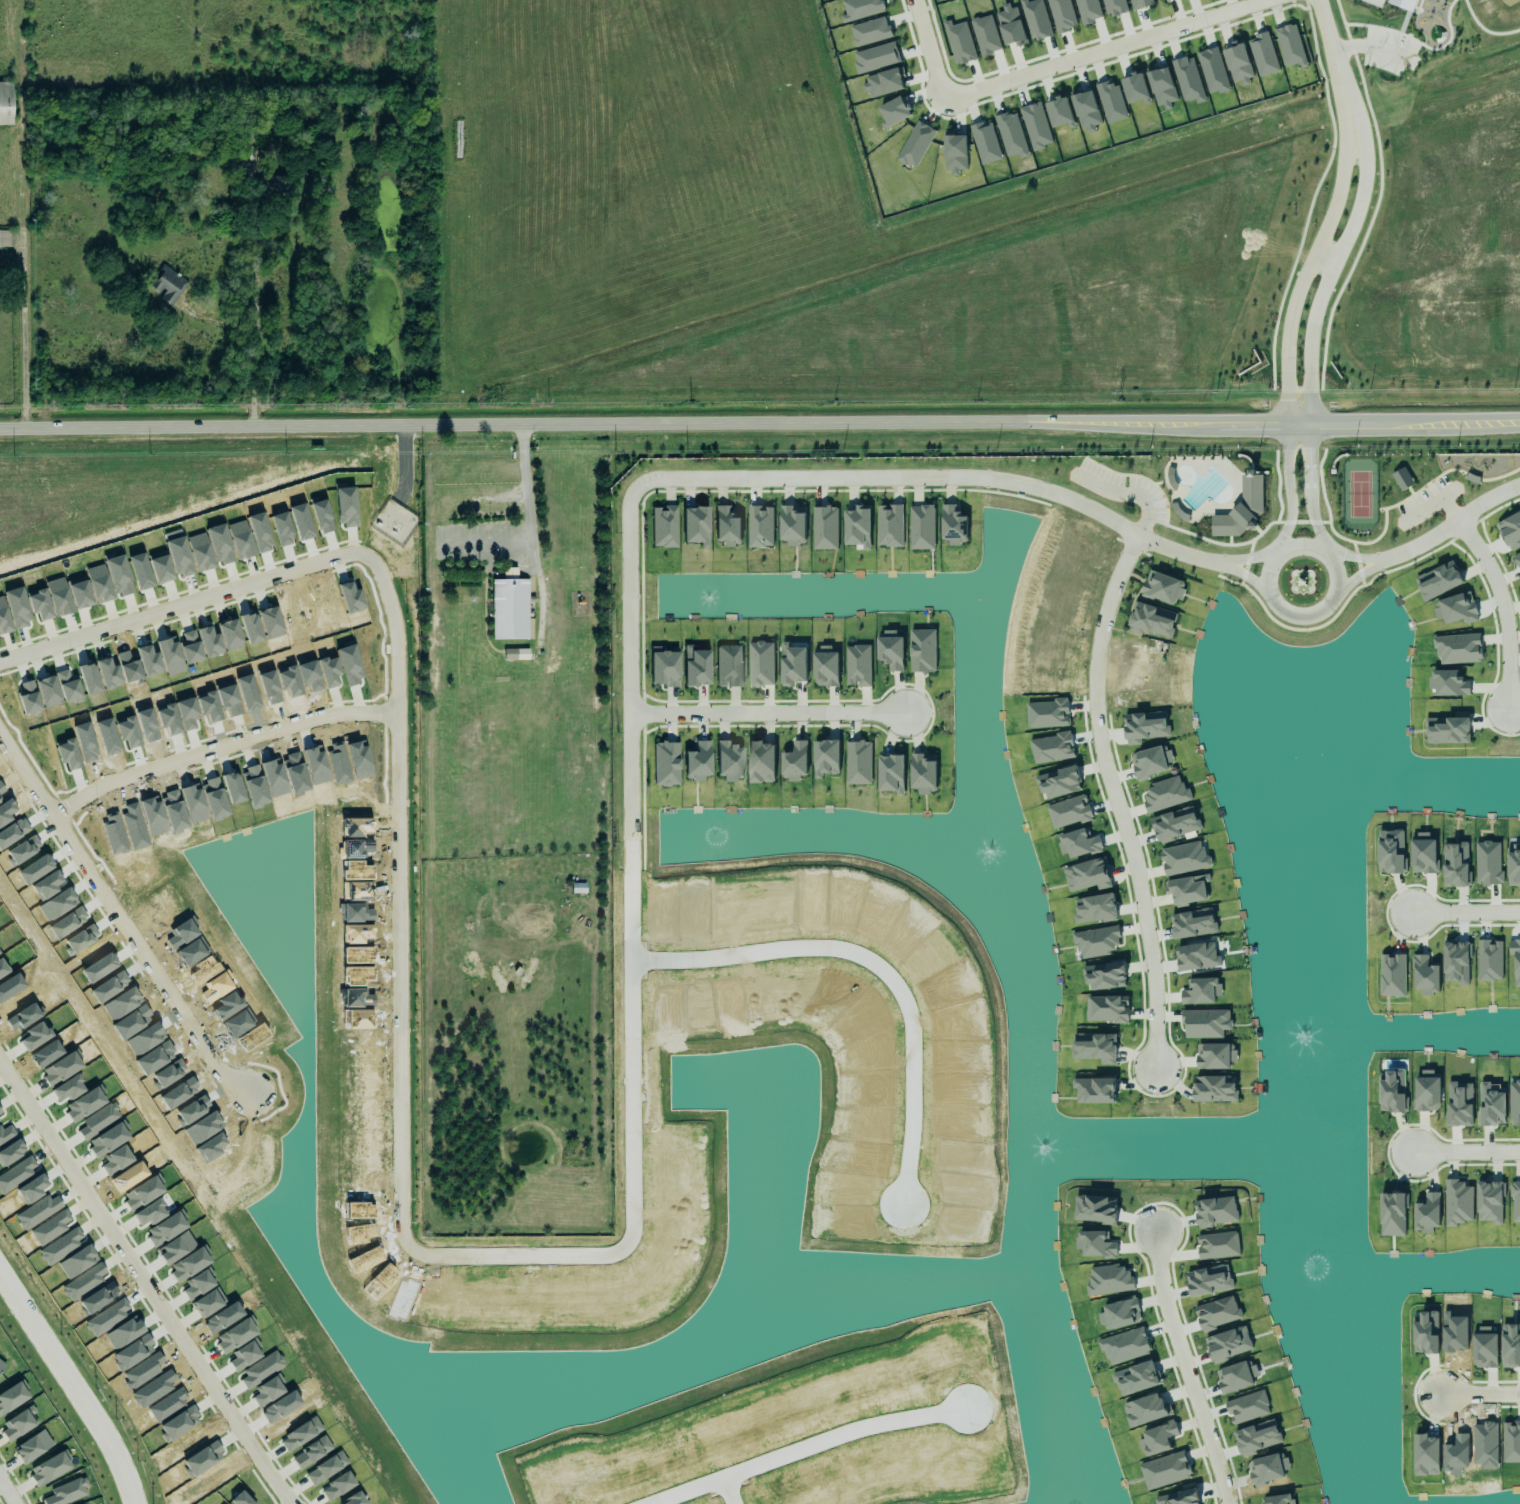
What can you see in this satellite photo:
building: (1165, 0)
building: (1140, 3)
building: (1403, 4)
building: (1114, 7)
building: (859, 8)
building: (1088, 10)
building: (1061, 15)
building: (1035, 19)
building: (1010, 25)
building: (869, 31)
building: (985, 35)
building: (959, 42)
building: (1290, 46)
building: (1262, 54)
building: (875, 57)
building: (1238, 63)
road: (1059, 66)
building: (1212, 71)
building: (1187, 79)
building: (884, 82)
building: (1162, 88)
building: (1135, 89)
building: (1110, 101)
building: (5, 103)
building: (1059, 108)
building: (895, 111)
building: (1086, 111)
building: (1035, 125)
building: (1011, 135)
building: (985, 142)
building: (915, 144)
building: (955, 153)
road: (1339, 209)
road: (23, 234)
building: (4, 238)
building: (168, 285)
road: (255, 341)
road: (760, 423)
road: (28, 476)
road: (934, 477)
building: (1402, 478)
road: (1287, 485)
road: (1308, 485)
road: (1439, 498)
road: (521, 501)
building: (1242, 509)
road: (1449, 523)
building: (792, 524)
building: (953, 524)
building: (696, 525)
building: (889, 525)
building: (664, 526)
building: (727, 526)
building: (760, 526)
building: (858, 526)
building: (920, 526)
building: (825, 527)
building: (1510, 530)
road: (478, 541)
road: (1307, 544)
road: (1351, 557)
road: (1246, 558)
building: (1517, 559)
road: (1245, 576)
road: (1354, 576)
building: (1438, 580)
building: (1162, 587)
building: (510, 607)
road: (1501, 607)
building: (1456, 609)
building: (1151, 620)
building: (890, 647)
building: (1458, 648)
building: (922, 650)
building: (516, 654)
building: (761, 663)
building: (792, 664)
building: (824, 664)
building: (858, 665)
building: (664, 666)
building: (728, 666)
building: (696, 667)
building: (1447, 679)
road: (766, 713)
building: (1145, 726)
building: (1448, 729)
road: (222, 746)
building: (1051, 748)
building: (825, 757)
building: (729, 761)
building: (795, 761)
building: (1150, 761)
building: (697, 762)
building: (761, 762)
building: (858, 762)
building: (665, 763)
building: (891, 770)
building: (921, 772)
building: (1165, 794)
road: (1112, 799)
building: (1069, 811)
road: (400, 816)
building: (1172, 822)
building: (1078, 843)
building: (1390, 851)
building: (1423, 854)
building: (1184, 858)
building: (1488, 862)
building: (1514, 863)
road: (630, 864)
building: (1455, 865)
building: (1087, 875)
building: (1187, 889)
building: (1095, 908)
road: (1465, 912)
road: (118, 914)
building: (1193, 923)
building: (1096, 941)
building: (1197, 956)
building: (1515, 959)
building: (1489, 960)
building: (1456, 962)
road: (871, 964)
building: (1392, 975)
building: (1425, 975)
building: (1104, 976)
building: (1201, 990)
building: (1107, 1008)
building: (1204, 1020)
building: (1096, 1044)
building: (1215, 1055)
building: (1094, 1086)
building: (1391, 1087)
building: (1214, 1089)
building: (1425, 1089)
building: (1514, 1100)
building: (1457, 1101)
building: (1492, 1104)
road: (1466, 1151)
building: (1458, 1202)
building: (1490, 1202)
building: (1515, 1202)
building: (1426, 1210)
building: (1215, 1211)
building: (1392, 1214)
building: (1218, 1245)
building: (1209, 1280)
road: (145, 1284)
building: (1217, 1312)
building: (1228, 1343)
building: (2, 1366)
road: (1184, 1367)
building: (1236, 1376)
road: (70, 1388)
road: (1482, 1395)
building: (13, 1397)
building: (1247, 1407)
building: (19, 1423)
building: (1257, 1436)
building: (33, 1443)
road: (801, 1445)
building: (50, 1468)
building: (65, 1490)
road: (725, 1490)
road: (6, 1492)
building: (1179, 1497)
building: (1279, 1499)

